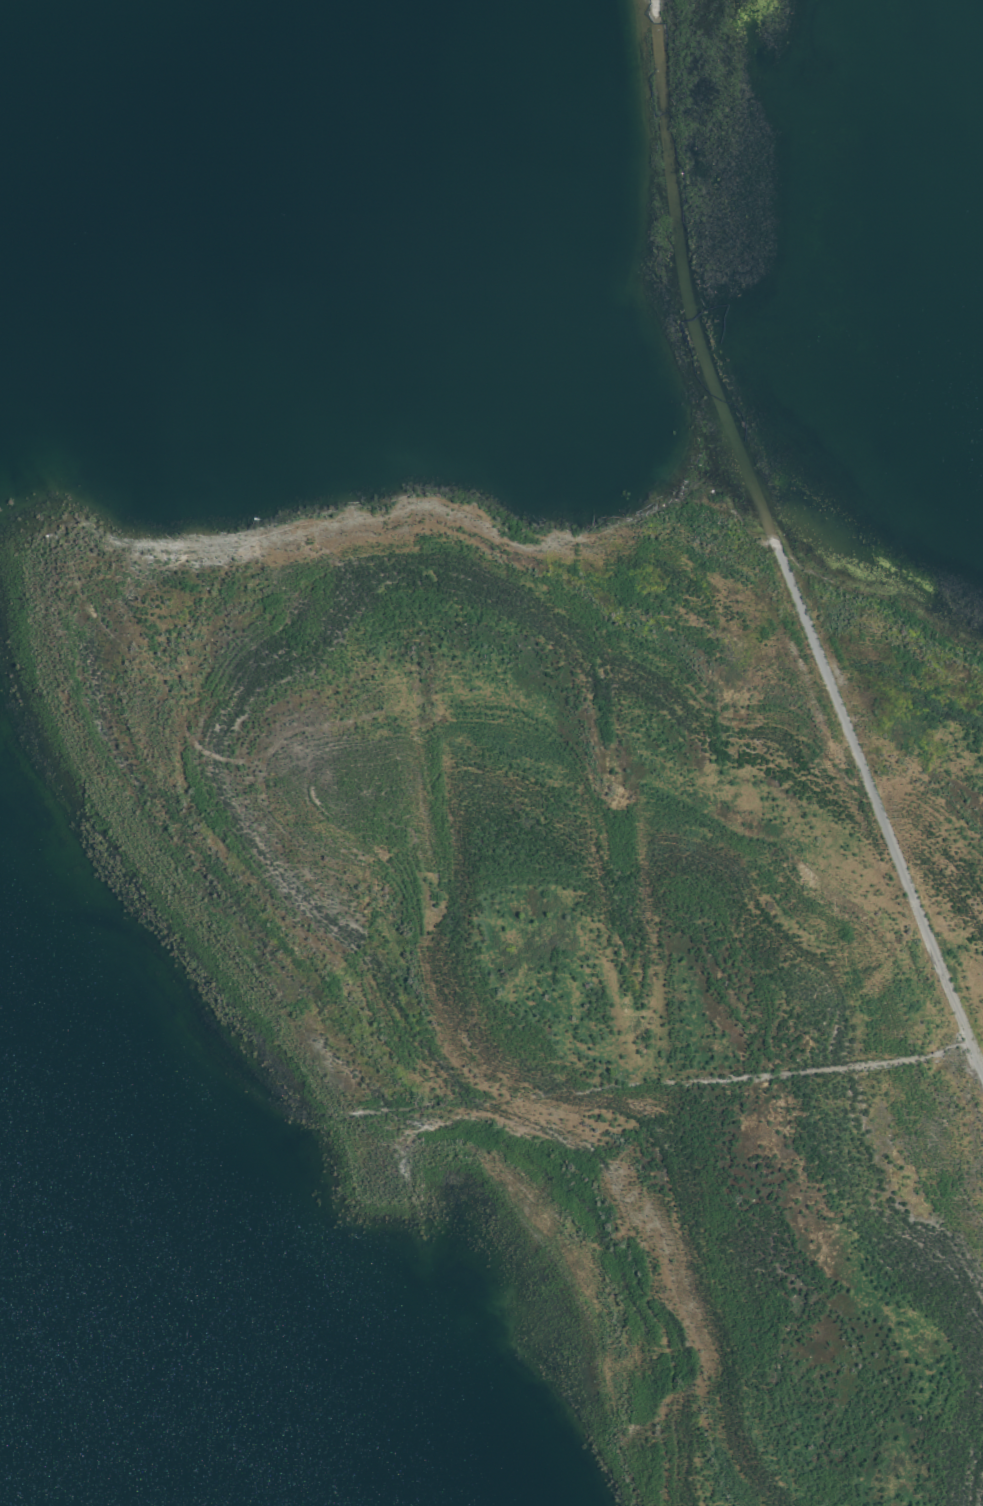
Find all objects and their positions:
road: (778, 551)
park: (586, 877)

